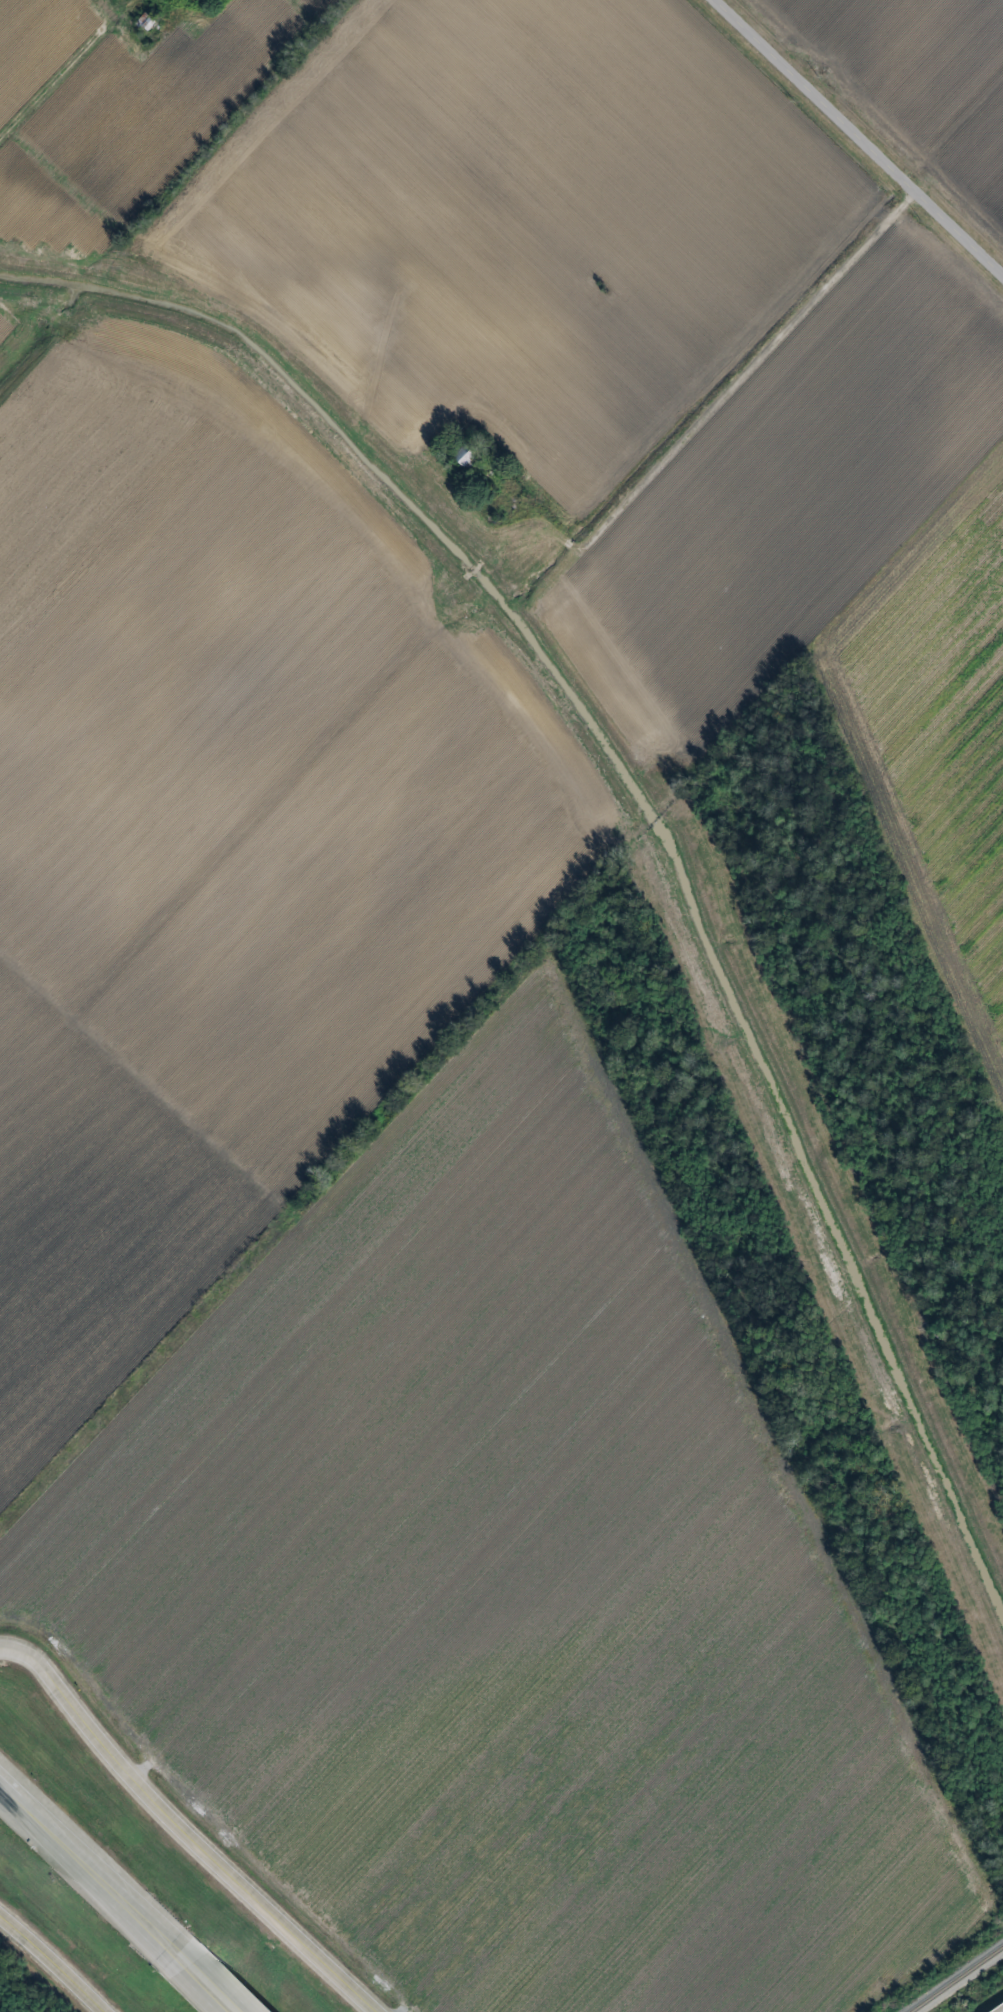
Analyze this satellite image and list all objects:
road: (64, 73)
road: (862, 134)
road: (723, 387)
building: (465, 455)
road: (859, 584)
road: (181, 1832)
road: (90, 1883)
road: (52, 1963)
railway: (957, 1979)
road: (201, 1992)

